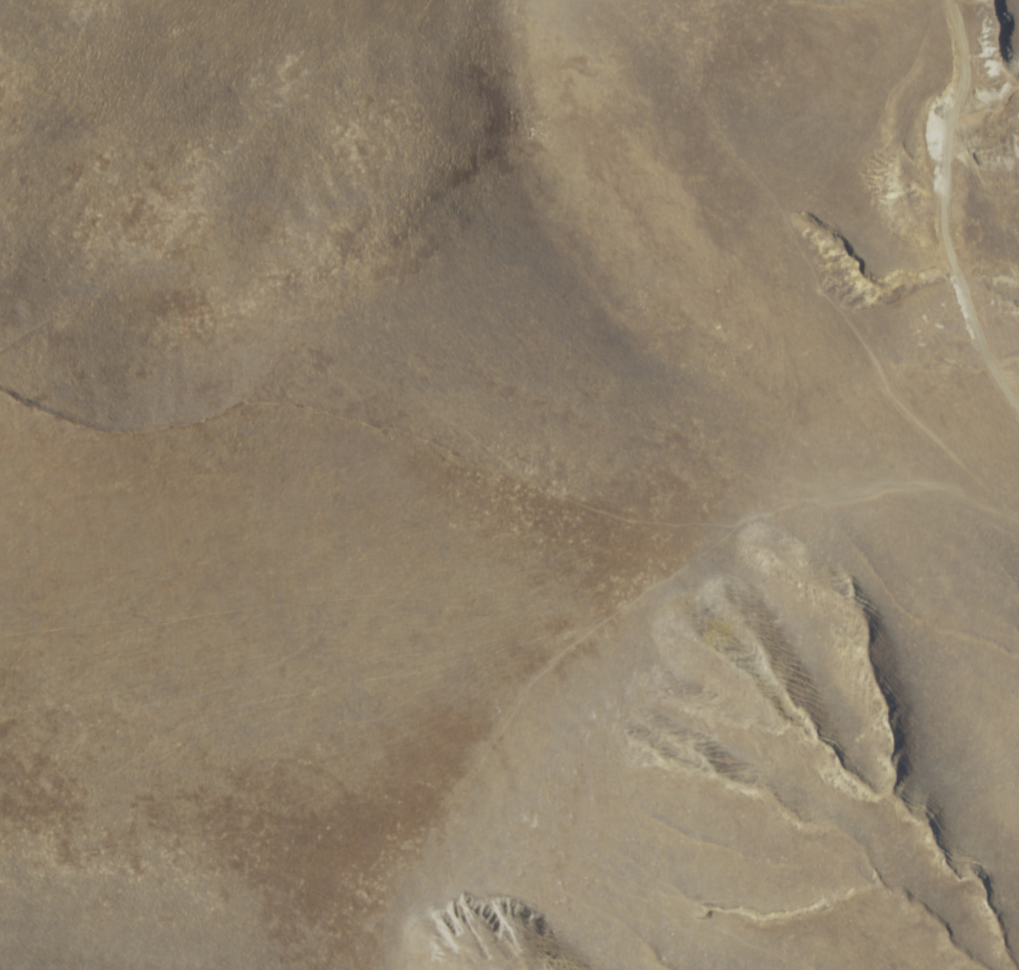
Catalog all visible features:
road: (1000, 303)

